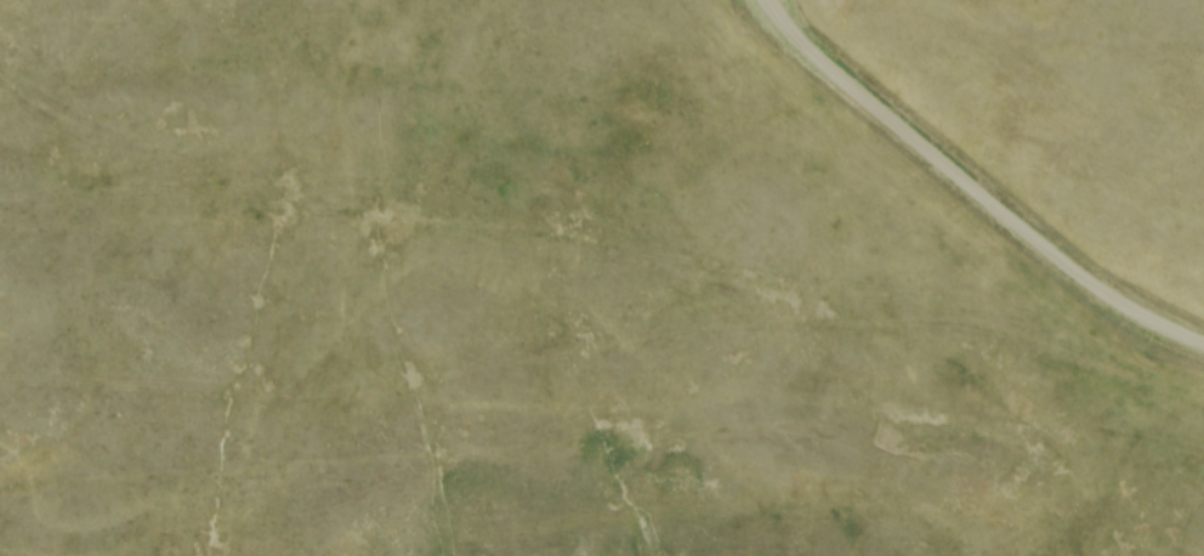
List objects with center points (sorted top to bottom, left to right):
road: (973, 183)

